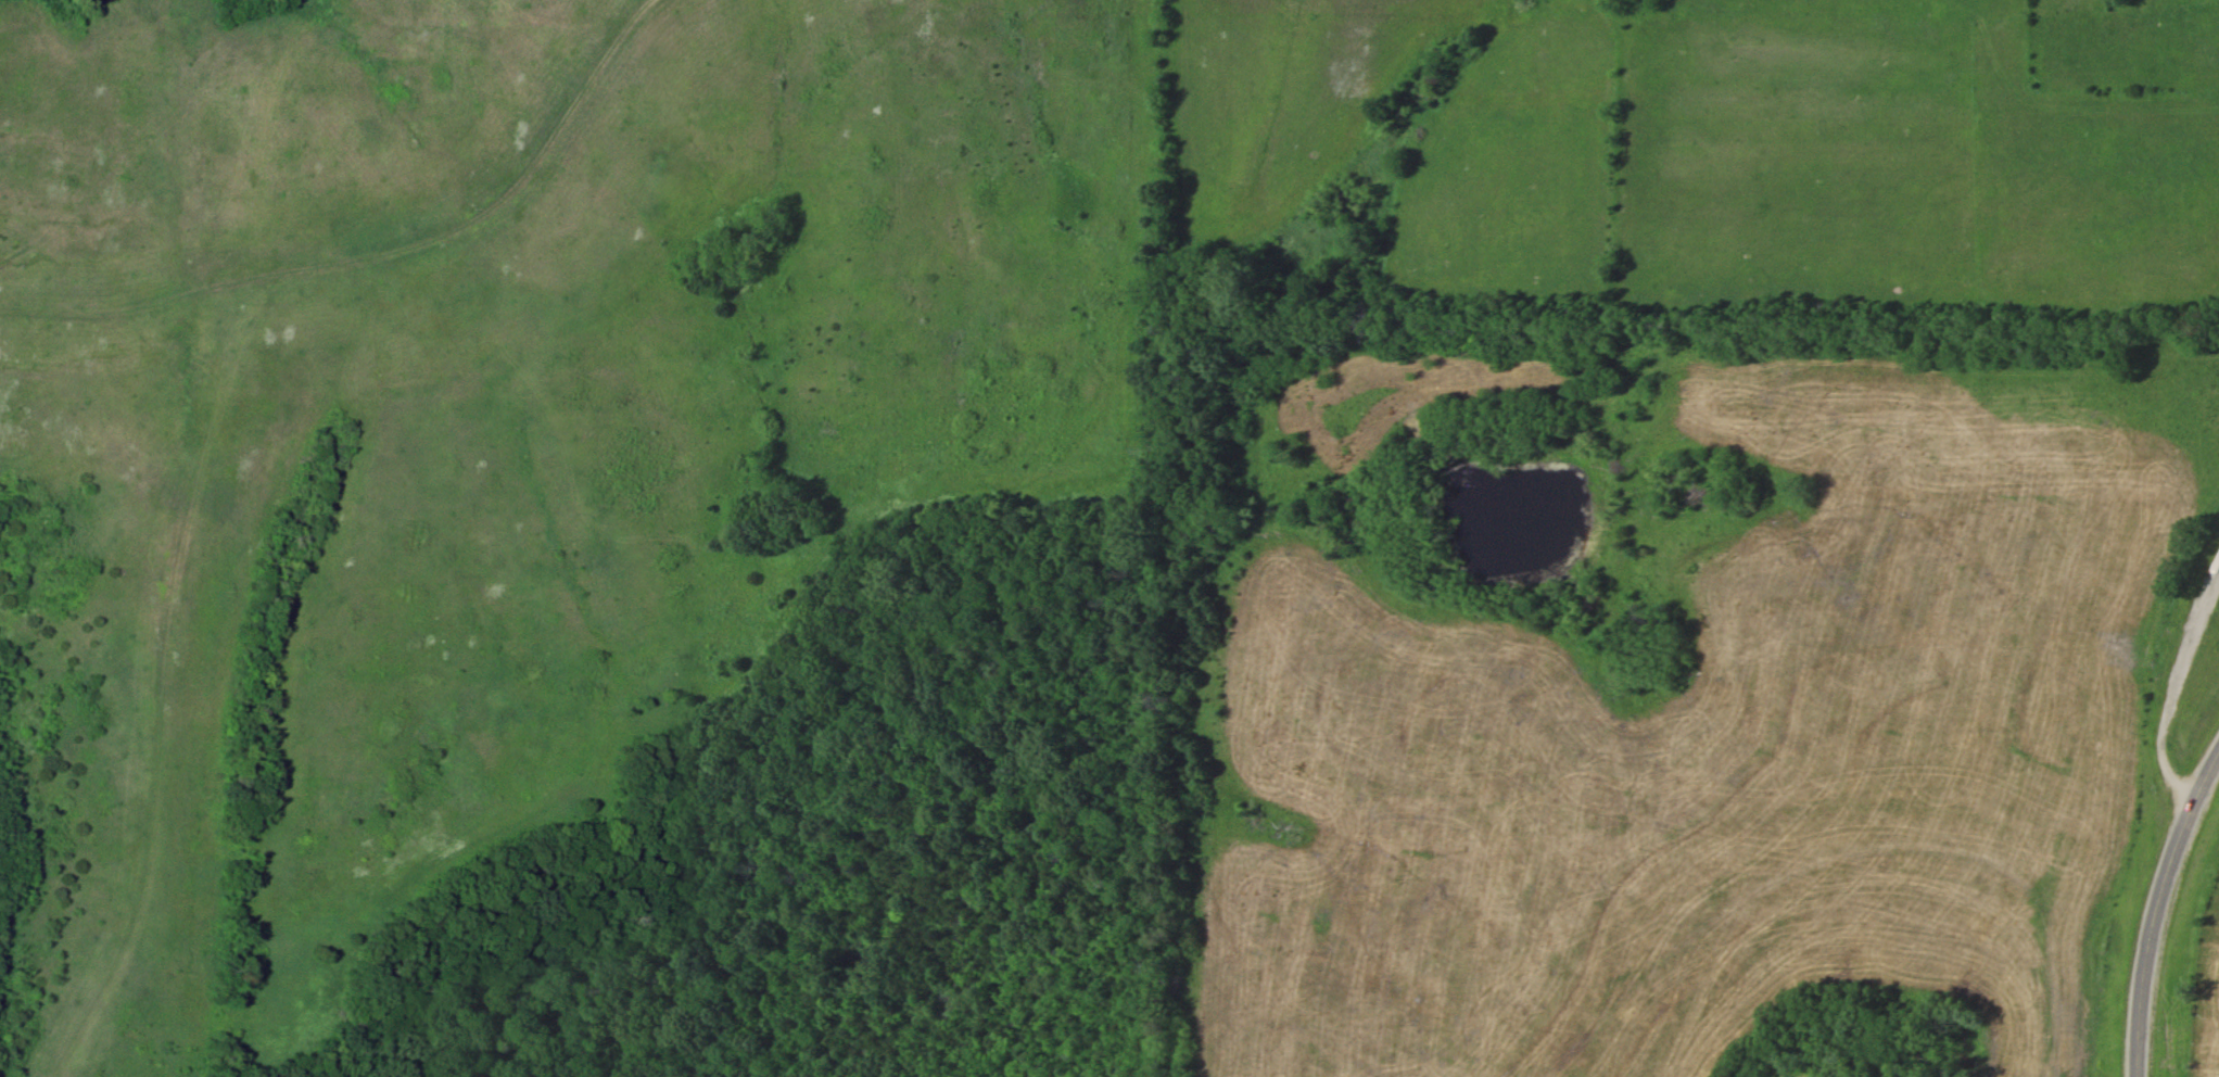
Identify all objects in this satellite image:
road: (2156, 905)

